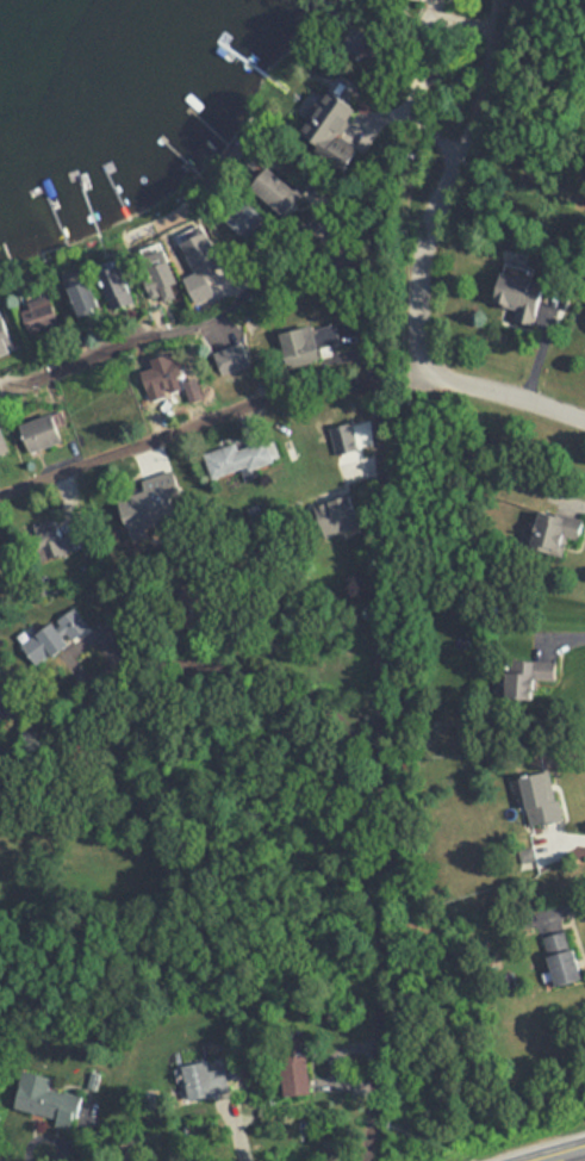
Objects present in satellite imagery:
building: (441, 0)
building: (351, 36)
building: (329, 125)
road: (452, 181)
building: (276, 182)
building: (244, 212)
building: (205, 257)
building: (160, 271)
building: (116, 281)
building: (522, 286)
building: (82, 291)
road: (385, 294)
building: (42, 313)
road: (212, 313)
building: (5, 335)
building: (304, 336)
road: (537, 349)
building: (231, 352)
building: (160, 373)
road: (483, 390)
building: (42, 424)
road: (187, 424)
building: (2, 439)
building: (236, 447)
building: (153, 491)
road: (571, 495)
building: (337, 507)
building: (550, 517)
building: (553, 533)
building: (54, 540)
building: (189, 608)
building: (56, 621)
road: (562, 633)
building: (45, 645)
road: (200, 656)
building: (524, 666)
road: (0, 757)
road: (386, 770)
building: (539, 789)
road: (567, 836)
road: (558, 905)
building: (560, 950)
road: (331, 1060)
building: (295, 1062)
building: (93, 1074)
building: (203, 1074)
building: (46, 1093)
road: (232, 1129)
road: (44, 1136)
road: (564, 1155)

